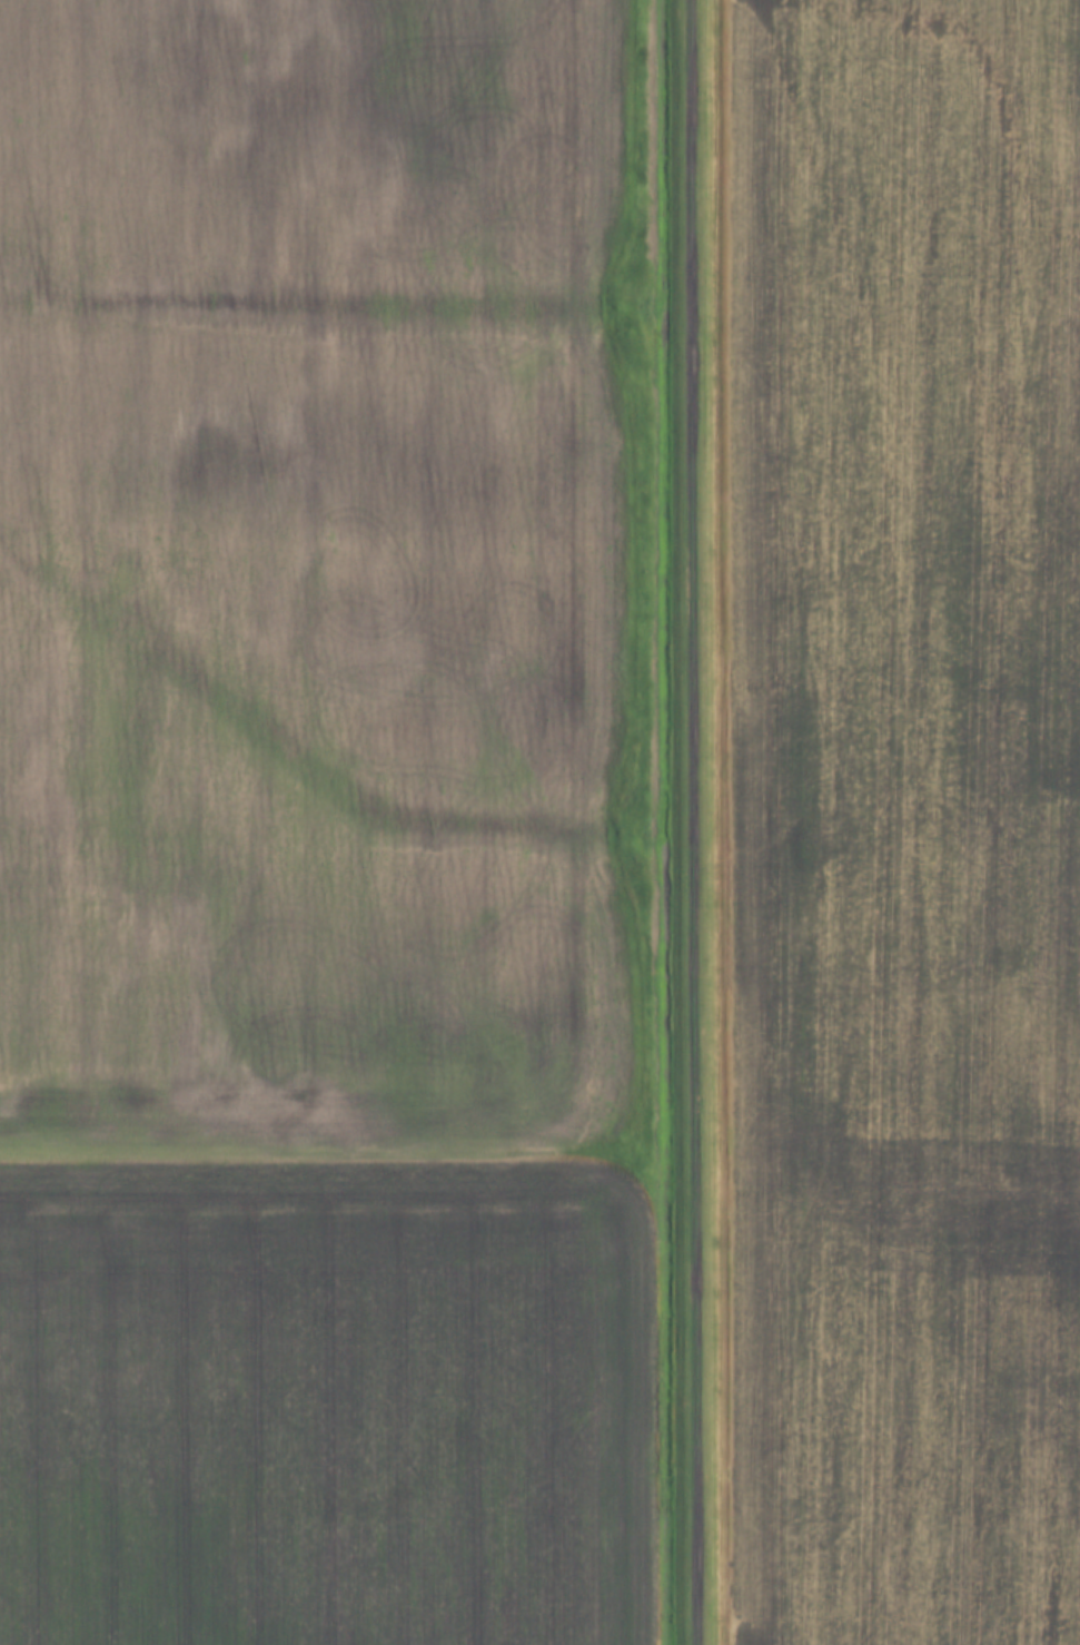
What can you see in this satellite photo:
road: (697, 821)

